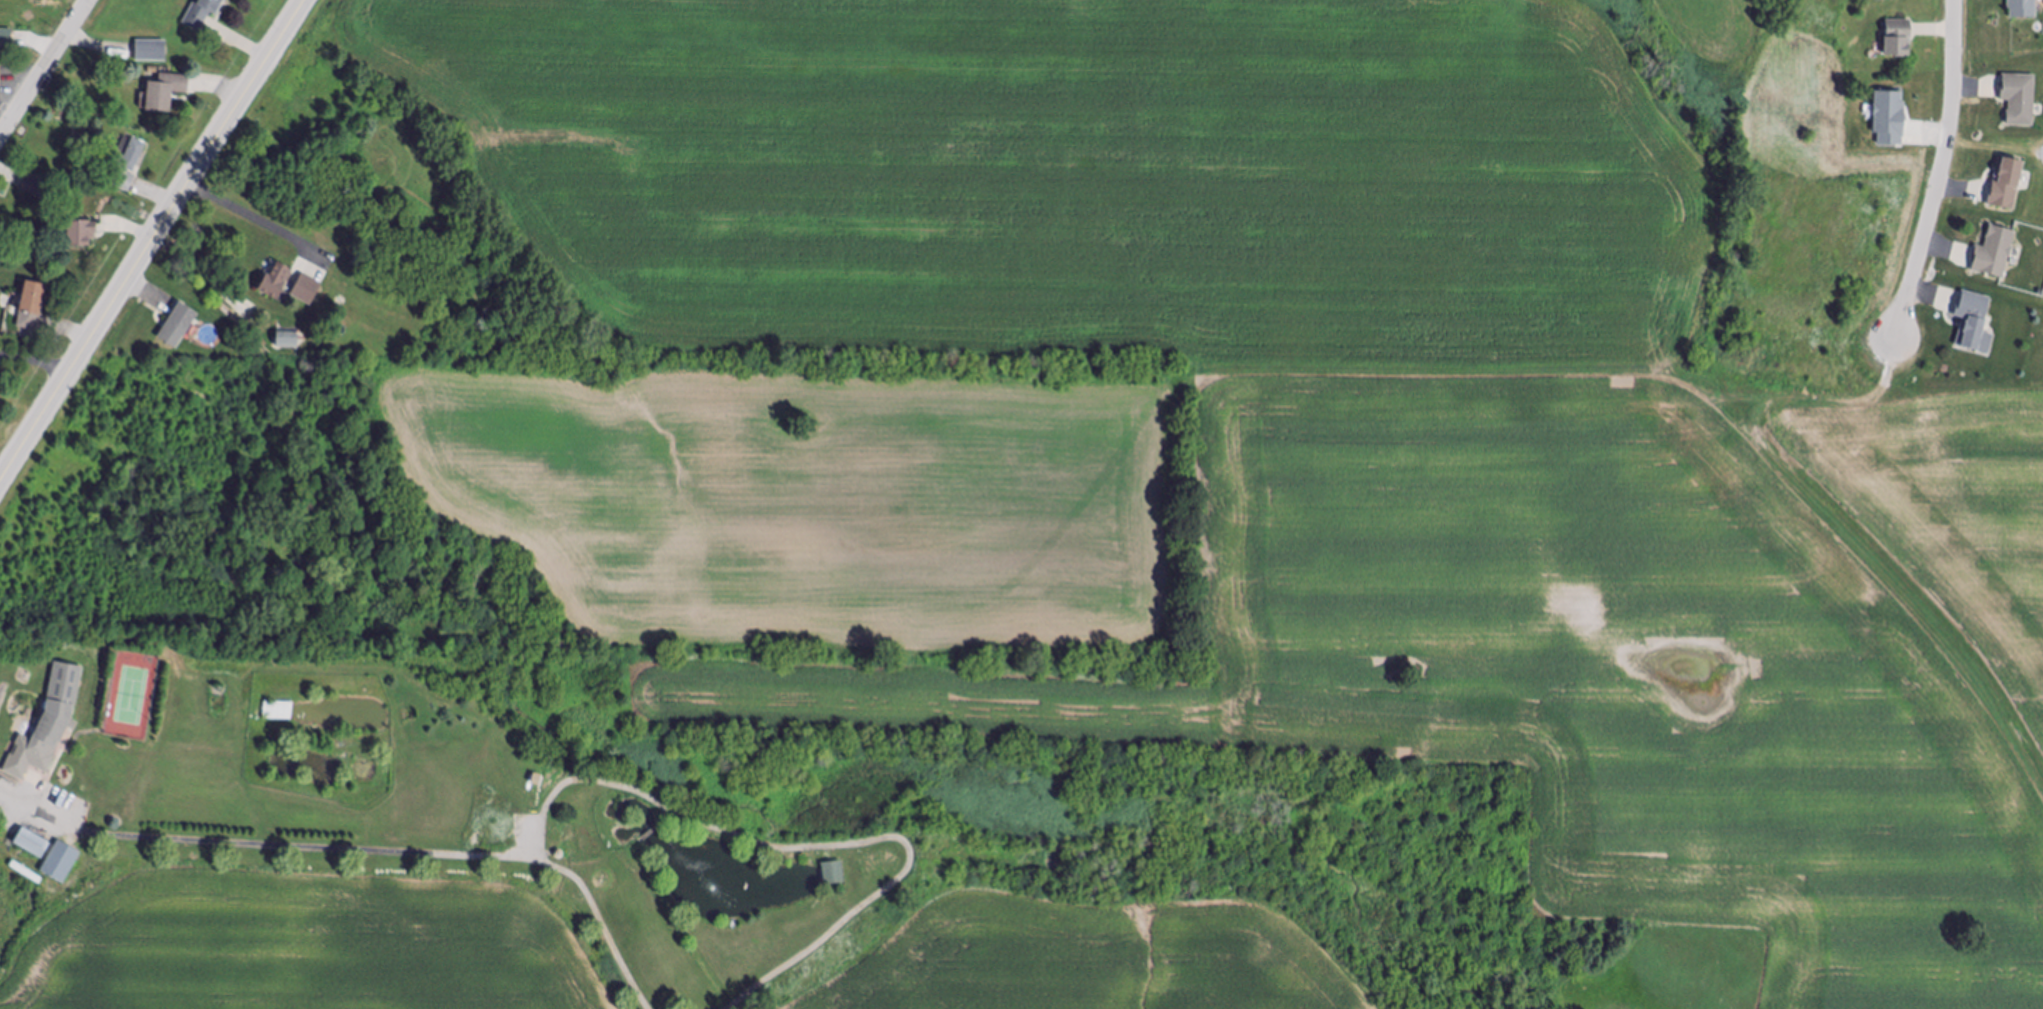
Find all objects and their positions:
building: (2023, 9)
building: (202, 14)
building: (6, 39)
building: (1898, 40)
building: (151, 51)
building: (0, 66)
road: (46, 69)
building: (0, 77)
building: (166, 92)
building: (2019, 98)
building: (1889, 119)
building: (129, 154)
road: (1939, 171)
building: (124, 182)
building: (35, 185)
building: (2006, 185)
road: (252, 219)
building: (79, 234)
road: (151, 240)
building: (1994, 252)
building: (272, 287)
building: (31, 307)
building: (1973, 323)
building: (178, 326)
building: (289, 340)
road: (35, 362)
crop: (1288, 424)
building: (279, 712)
building: (48, 725)
road: (251, 843)
building: (33, 844)
road: (813, 846)
building: (61, 863)
building: (834, 875)
road: (598, 914)
crop: (293, 945)
crop: (1094, 954)

